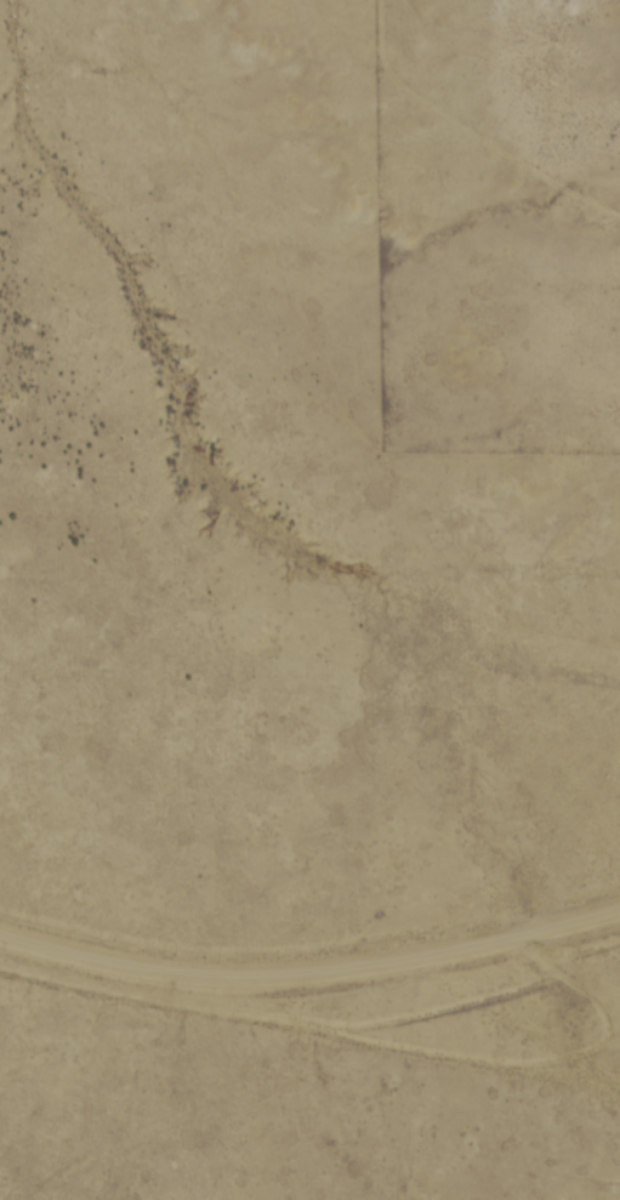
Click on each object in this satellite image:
road: (312, 973)

